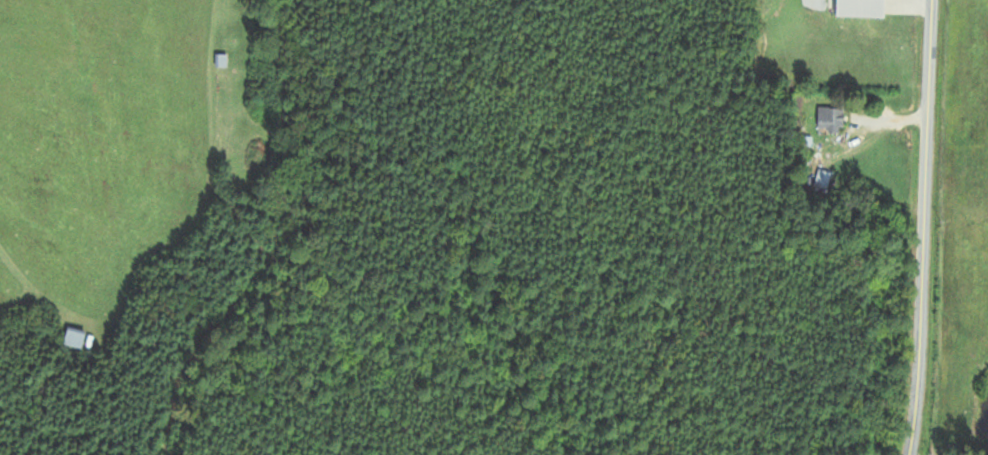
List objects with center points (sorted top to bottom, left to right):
building: (867, 9)
building: (832, 119)
road: (928, 227)

